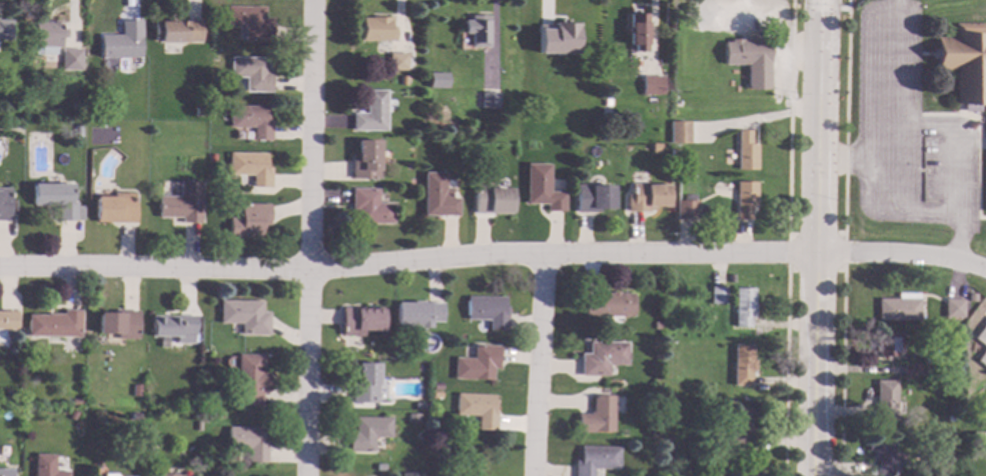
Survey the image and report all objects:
building: (249, 23)
building: (4, 30)
building: (478, 30)
building: (377, 31)
building: (176, 32)
building: (638, 32)
building: (47, 36)
building: (556, 39)
building: (121, 43)
building: (749, 59)
building: (69, 60)
building: (397, 62)
building: (966, 63)
building: (250, 74)
building: (402, 81)
building: (437, 82)
building: (652, 86)
building: (490, 101)
building: (607, 104)
building: (75, 107)
building: (90, 113)
building: (198, 113)
building: (371, 114)
road: (788, 117)
road: (846, 117)
building: (249, 122)
building: (76, 132)
building: (678, 132)
road: (978, 133)
building: (236, 136)
road: (958, 138)
building: (745, 152)
building: (674, 154)
building: (209, 158)
road: (853, 160)
road: (888, 160)
building: (364, 161)
building: (249, 168)
building: (680, 183)
building: (541, 189)
building: (437, 197)
building: (647, 198)
building: (593, 199)
building: (744, 200)
building: (56, 201)
building: (490, 201)
building: (181, 204)
building: (4, 206)
building: (368, 208)
building: (113, 209)
building: (685, 211)
building: (247, 222)
road: (843, 235)
road: (307, 237)
road: (817, 238)
road: (493, 254)
building: (730, 280)
building: (717, 296)
building: (608, 306)
building: (899, 307)
building: (953, 307)
building: (743, 308)
building: (487, 312)
building: (416, 315)
building: (243, 317)
building: (7, 321)
building: (358, 322)
building: (53, 325)
building: (117, 325)
building: (170, 326)
building: (656, 326)
building: (982, 342)
building: (885, 345)
building: (601, 359)
building: (473, 365)
road: (536, 366)
building: (742, 366)
building: (910, 369)
road: (784, 372)
building: (248, 381)
building: (363, 385)
building: (435, 387)
building: (134, 391)
building: (434, 395)
building: (648, 396)
building: (11, 398)
building: (884, 398)
building: (75, 402)
building: (417, 406)
building: (475, 410)
building: (71, 416)
building: (208, 416)
building: (133, 417)
building: (596, 417)
building: (411, 419)
building: (740, 425)
building: (196, 427)
building: (366, 434)
building: (977, 435)
building: (418, 436)
building: (246, 443)
building: (718, 452)
building: (882, 453)
building: (918, 453)
building: (595, 461)
building: (44, 466)
building: (378, 468)
building: (950, 468)
building: (5, 473)
building: (739, 474)
building: (163, 475)
building: (409, 475)

